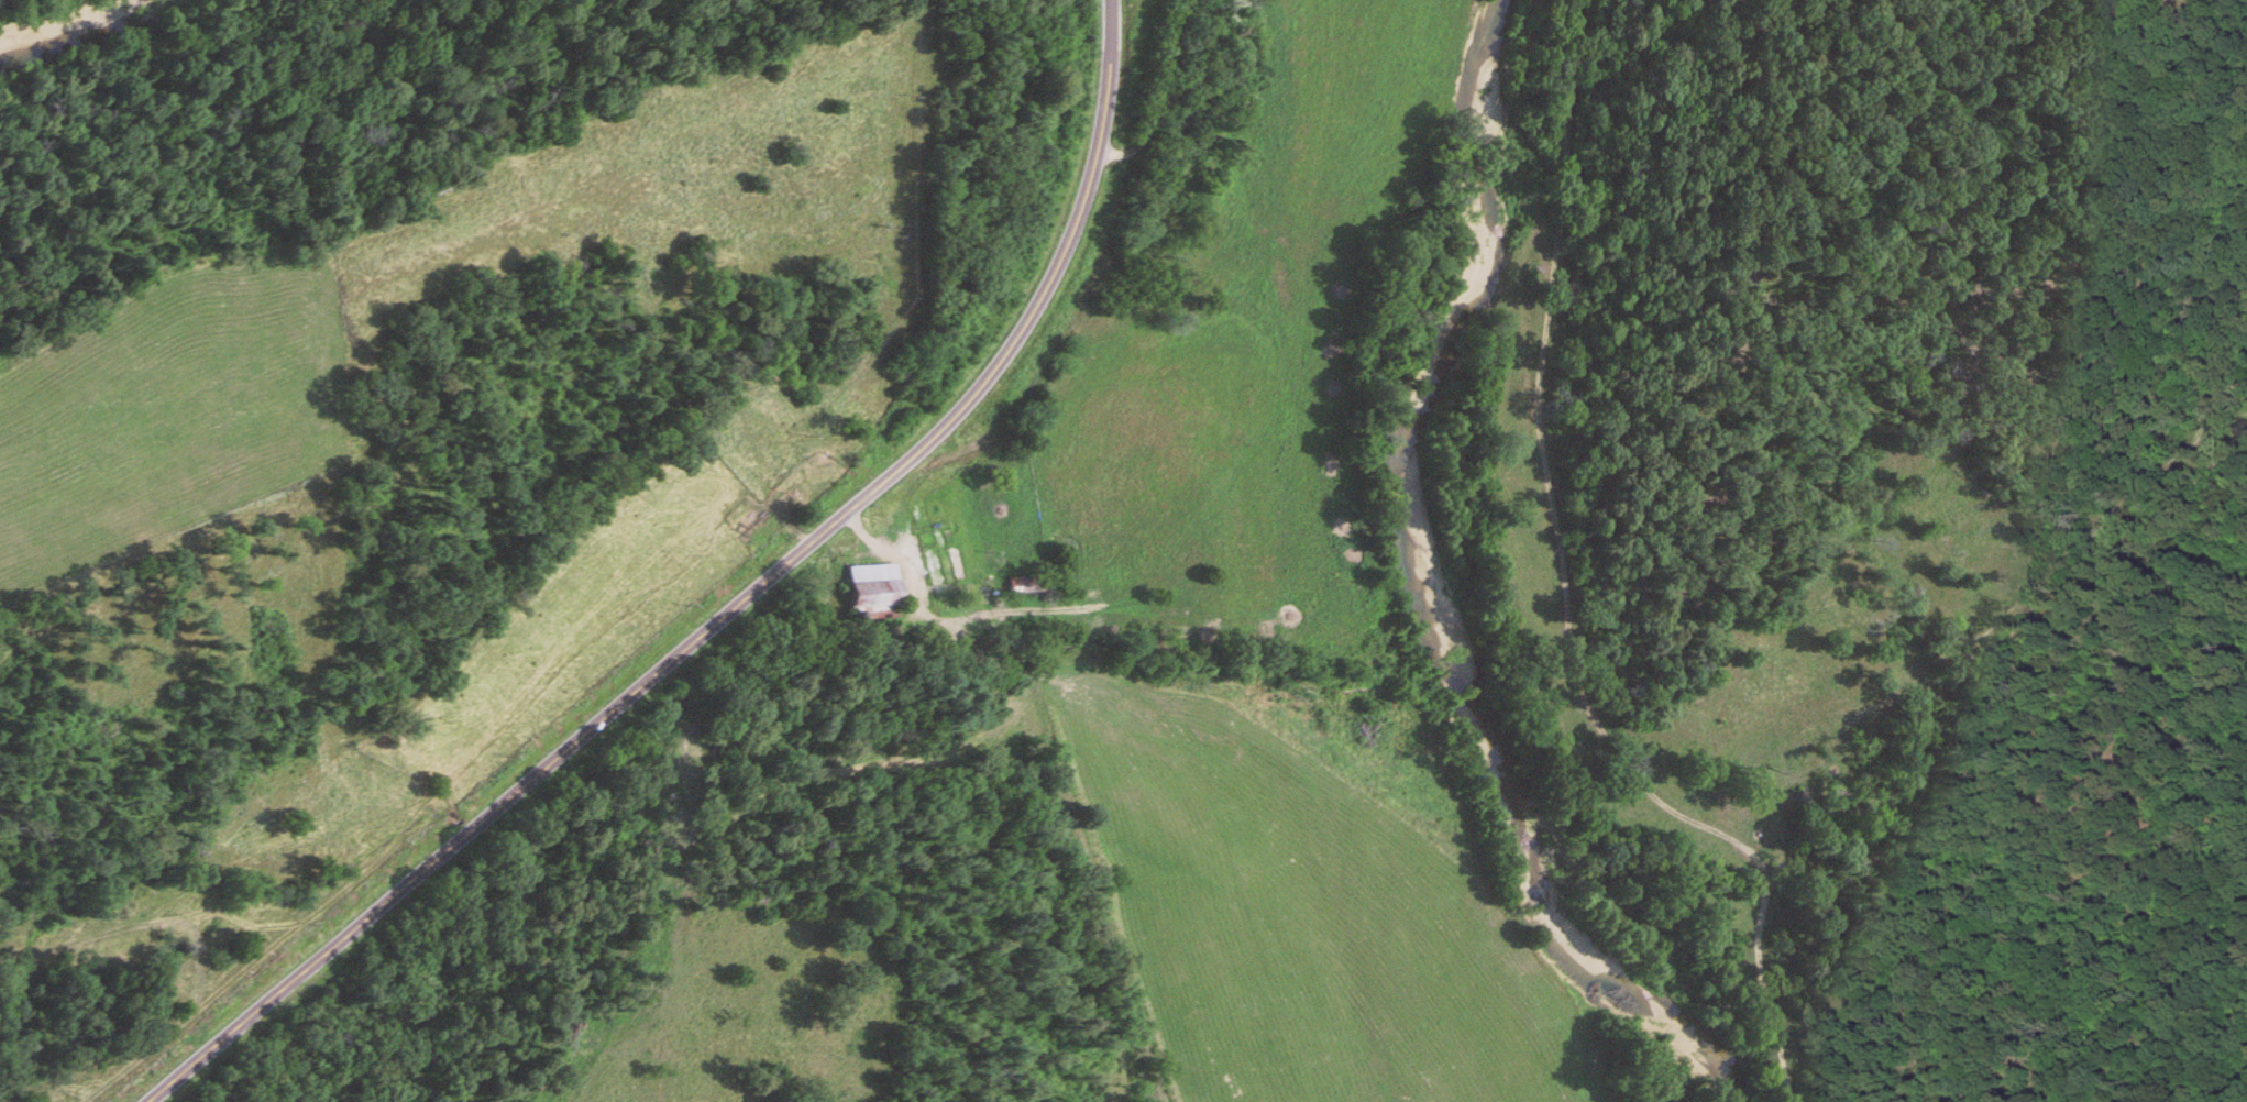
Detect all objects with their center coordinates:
building: (1024, 585)
building: (874, 586)
road: (719, 611)

